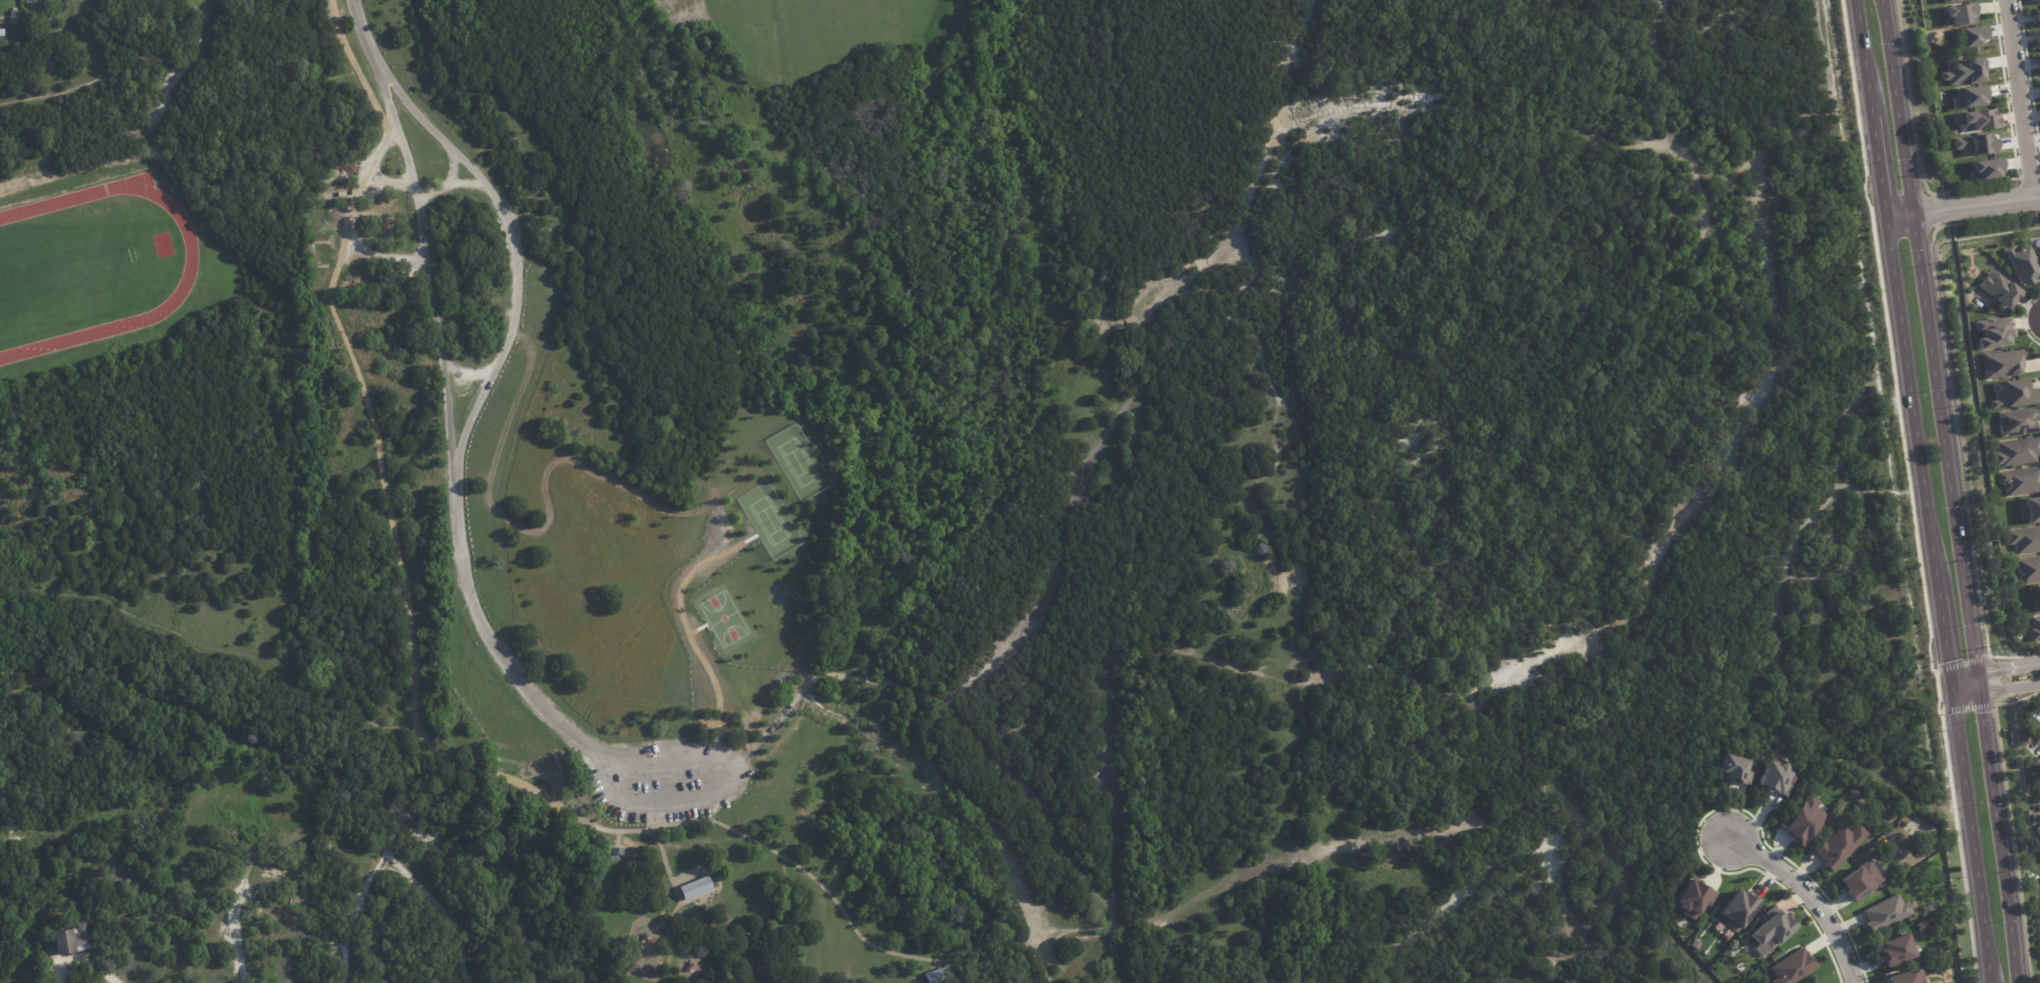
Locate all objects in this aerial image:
building: (26, 0)
building: (1946, 0)
building: (2037, 1)
building: (1958, 13)
building: (2037, 15)
building: (16, 18)
park: (808, 29)
road: (360, 31)
road: (344, 37)
building: (2038, 38)
road: (1285, 62)
road: (1859, 65)
building: (1968, 96)
road: (2019, 99)
building: (1975, 120)
road: (1584, 125)
building: (1952, 132)
road: (391, 137)
building: (1974, 145)
road: (1746, 153)
road: (372, 158)
building: (1985, 169)
road: (1875, 175)
road: (385, 183)
road: (446, 186)
road: (1960, 207)
road: (510, 251)
track: (188, 263)
building: (2023, 264)
road: (423, 265)
park: (65, 273)
building: (2000, 290)
building: (1992, 332)
building: (2000, 364)
road: (468, 373)
building: (2011, 394)
road: (1908, 407)
road: (1847, 408)
building: (2017, 421)
road: (1113, 426)
building: (2017, 452)
park: (798, 461)
road: (382, 480)
building: (2020, 480)
park: (1063, 481)
road: (1879, 487)
road: (1953, 491)
building: (2030, 510)
park: (769, 519)
building: (2025, 540)
road: (1791, 562)
building: (2028, 568)
building: (2036, 598)
park: (723, 617)
road: (685, 624)
road: (697, 628)
building: (2034, 629)
road: (1942, 636)
road: (287, 651)
road: (1994, 670)
traffic signals: (1978, 673)
road: (1312, 674)
road: (853, 675)
traffic signals: (1948, 677)
road: (881, 680)
road: (899, 683)
road: (222, 690)
road: (1995, 691)
traffic signals: (1982, 693)
road: (812, 697)
traffic signals: (1951, 698)
road: (1765, 719)
road: (862, 723)
road: (769, 725)
road: (589, 748)
building: (1736, 769)
parking lot: (668, 776)
building: (1775, 777)
road: (505, 778)
building: (2039, 792)
road: (1035, 799)
road: (405, 817)
building: (1802, 820)
road: (1967, 829)
building: (2038, 831)
road: (639, 832)
road: (1552, 834)
park: (678, 844)
building: (1837, 845)
building: (2039, 845)
road: (1337, 847)
building: (619, 852)
building: (279, 875)
building: (1859, 880)
building: (698, 889)
building: (308, 890)
building: (1692, 899)
road: (1813, 899)
road: (430, 901)
building: (1737, 909)
road: (353, 910)
building: (1884, 913)
building: (1770, 930)
building: (73, 940)
building: (1893, 950)
road: (1113, 956)
road: (80, 957)
building: (1791, 967)
building: (936, 976)
building: (1906, 977)

